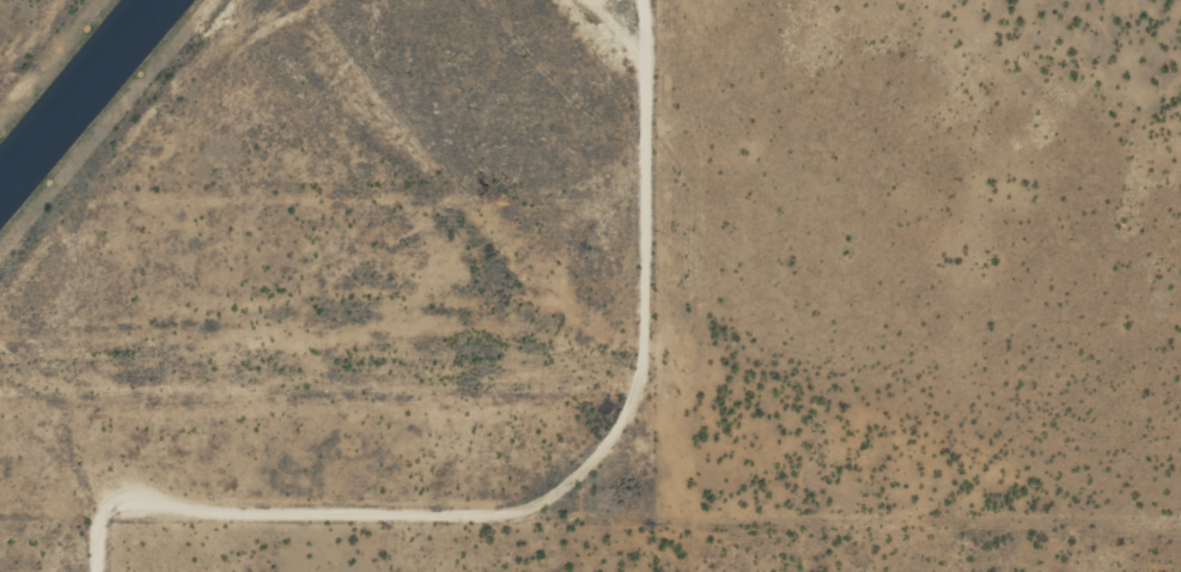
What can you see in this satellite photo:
airport runway: (80, 96)
airport: (322, 262)

